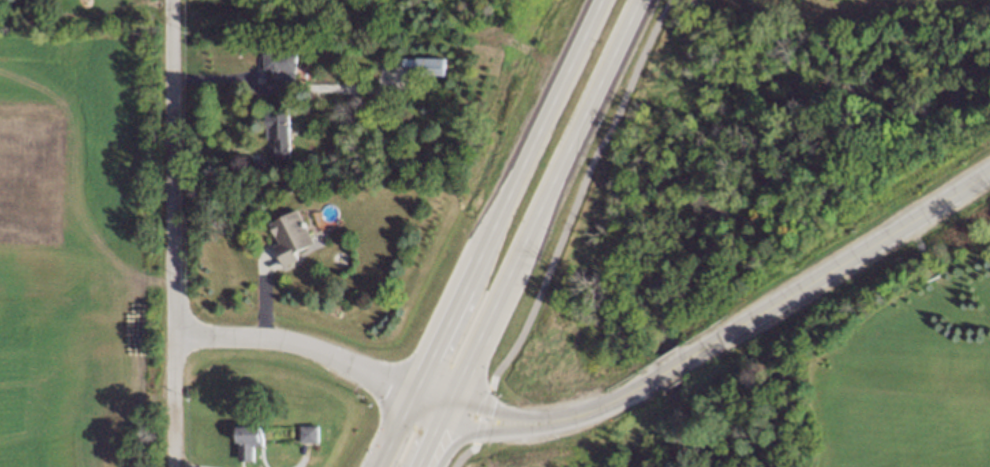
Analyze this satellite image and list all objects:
building: (422, 61)
building: (272, 62)
building: (274, 133)
building: (251, 163)
building: (283, 187)
road: (576, 193)
road: (508, 197)
road: (547, 198)
road: (169, 233)
building: (285, 236)
road: (836, 265)
road: (294, 343)
road: (667, 368)
road: (618, 395)
road: (450, 409)
road: (496, 411)
road: (481, 414)
road: (392, 429)
road: (492, 430)
building: (305, 434)
building: (245, 440)
road: (432, 444)
road: (463, 454)

